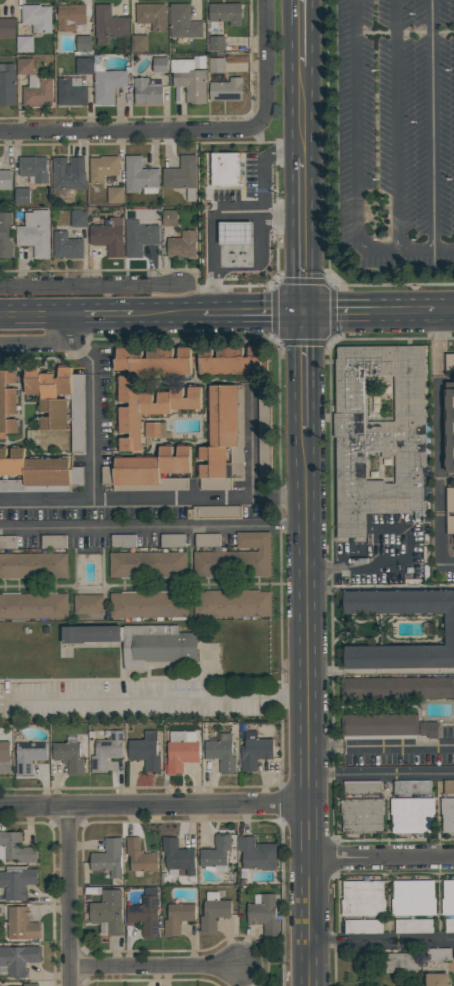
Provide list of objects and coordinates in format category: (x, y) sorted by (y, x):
building: (225, 14)
building: (151, 16)
building: (37, 17)
building: (70, 17)
building: (183, 22)
building: (109, 25)
building: (7, 28)
road: (303, 33)
road: (404, 34)
building: (139, 43)
building: (216, 43)
building: (24, 44)
building: (83, 45)
building: (160, 65)
building: (216, 65)
road: (266, 65)
building: (24, 66)
building: (84, 66)
building: (188, 80)
building: (7, 84)
building: (108, 84)
building: (225, 90)
building: (37, 91)
building: (71, 92)
building: (146, 92)
road: (304, 112)
road: (397, 125)
road: (433, 126)
road: (127, 130)
parking lot: (398, 134)
road: (356, 140)
road: (285, 158)
building: (103, 168)
building: (34, 169)
building: (225, 169)
building: (68, 174)
building: (140, 176)
building: (182, 176)
building: (5, 180)
road: (263, 186)
building: (115, 195)
building: (22, 196)
road: (328, 202)
building: (169, 217)
building: (79, 219)
road: (214, 220)
building: (35, 233)
building: (235, 233)
road: (305, 234)
building: (5, 235)
building: (109, 236)
building: (139, 237)
building: (182, 245)
building: (66, 246)
road: (426, 251)
road: (93, 285)
road: (444, 309)
road: (370, 310)
traffic signals: (306, 311)
road: (167, 312)
road: (254, 312)
road: (105, 313)
road: (38, 314)
road: (333, 342)
road: (52, 350)
building: (229, 361)
building: (449, 363)
road: (306, 373)
building: (263, 397)
building: (59, 401)
building: (179, 401)
building: (8, 403)
building: (449, 429)
building: (156, 430)
building: (379, 435)
building: (223, 439)
road: (439, 444)
building: (263, 456)
building: (149, 471)
building: (38, 473)
road: (143, 499)
road: (46, 500)
building: (213, 512)
road: (153, 527)
building: (206, 540)
building: (123, 541)
building: (172, 541)
building: (49, 542)
building: (236, 558)
road: (372, 564)
building: (147, 565)
building: (32, 566)
road: (380, 590)
building: (232, 603)
building: (89, 604)
building: (34, 605)
building: (148, 605)
building: (449, 629)
building: (139, 642)
road: (307, 648)
road: (380, 671)
building: (397, 688)
road: (153, 699)
building: (379, 726)
building: (428, 729)
road: (380, 747)
building: (254, 750)
building: (106, 751)
building: (145, 751)
building: (180, 751)
building: (5, 752)
building: (221, 753)
building: (69, 755)
building: (28, 757)
road: (381, 778)
building: (362, 787)
building: (412, 787)
building: (448, 787)
road: (153, 808)
building: (447, 814)
building: (412, 815)
building: (362, 816)
building: (16, 848)
building: (216, 854)
building: (257, 855)
building: (178, 857)
building: (108, 858)
building: (140, 858)
road: (381, 859)
building: (17, 881)
road: (68, 898)
building: (362, 898)
building: (413, 898)
building: (448, 898)
road: (308, 902)
building: (108, 912)
building: (213, 912)
building: (264, 913)
building: (145, 916)
building: (177, 918)
building: (21, 924)
building: (449, 925)
building: (363, 926)
building: (413, 926)
road: (381, 944)
building: (19, 959)
building: (400, 963)
road: (308, 965)
road: (154, 967)
building: (437, 980)
building: (31, 984)

